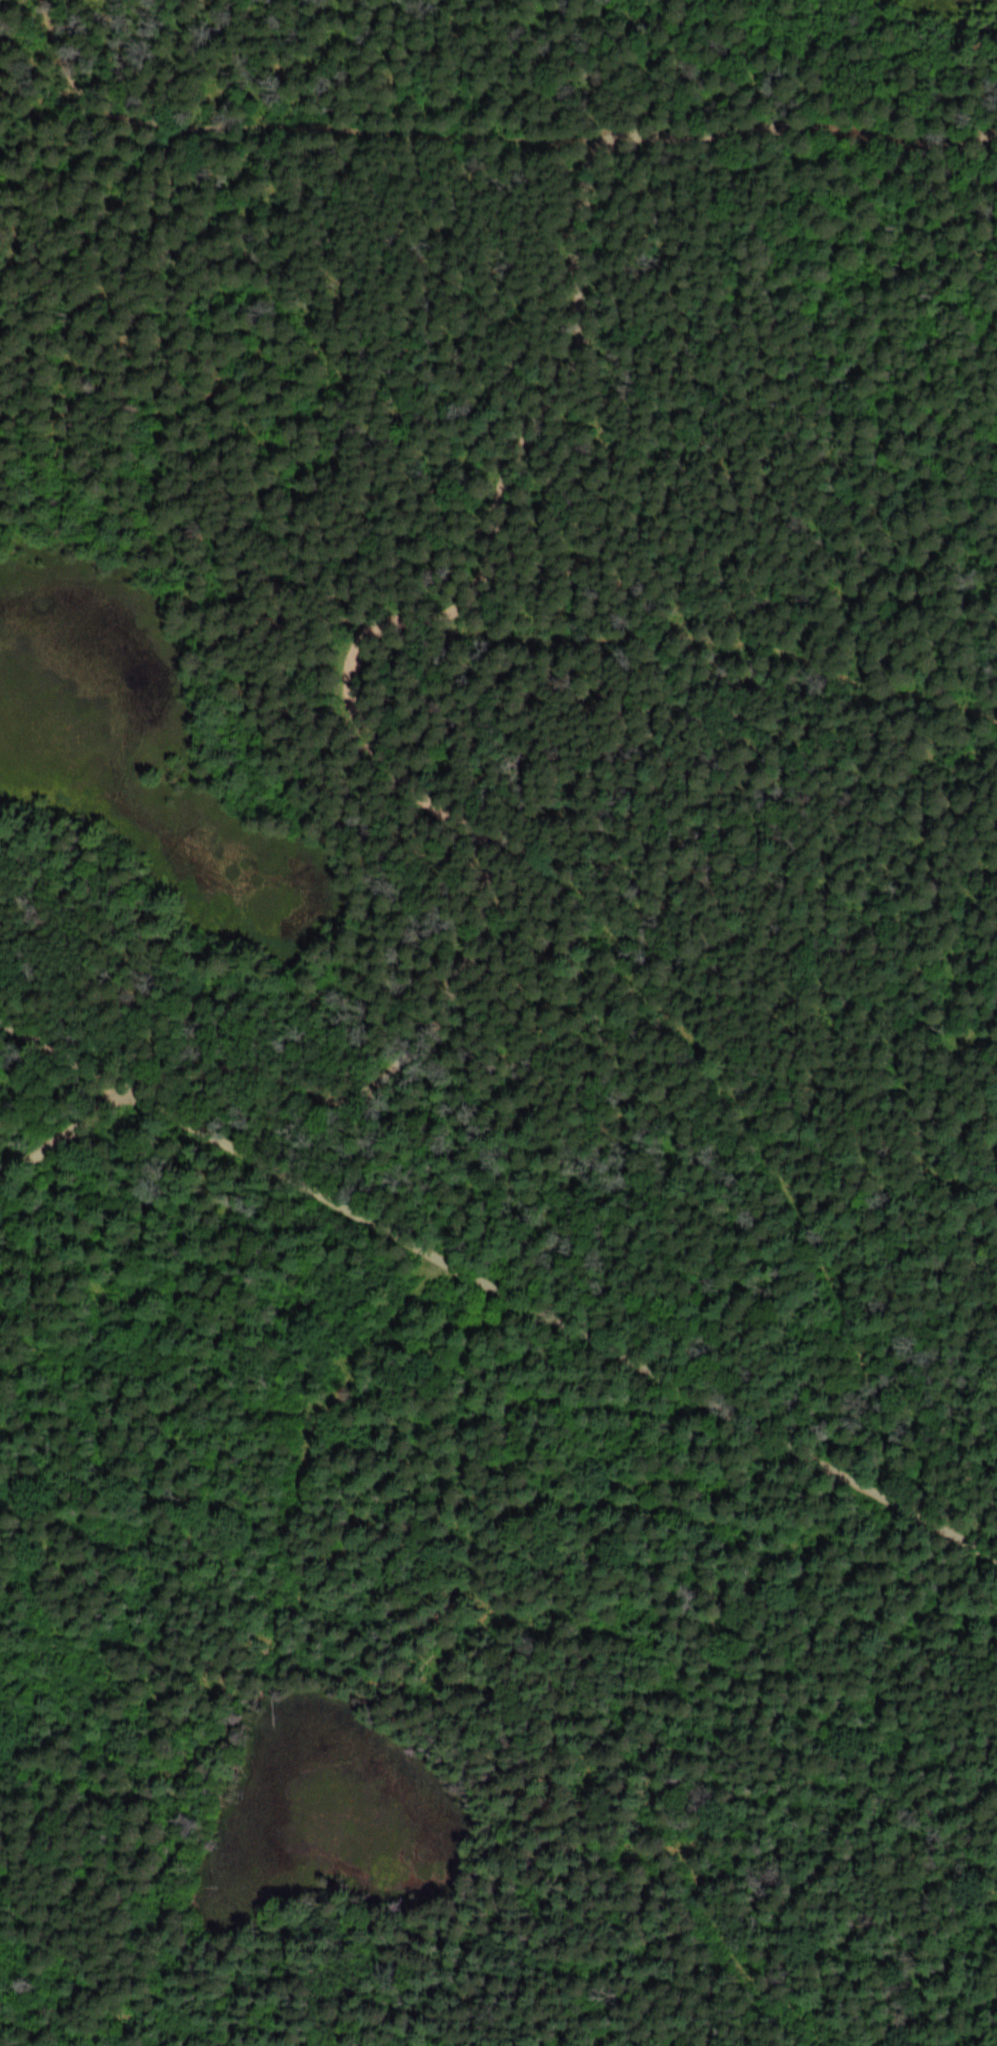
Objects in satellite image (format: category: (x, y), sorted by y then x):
road: (479, 128)
road: (687, 640)
road: (418, 761)
road: (499, 1283)

